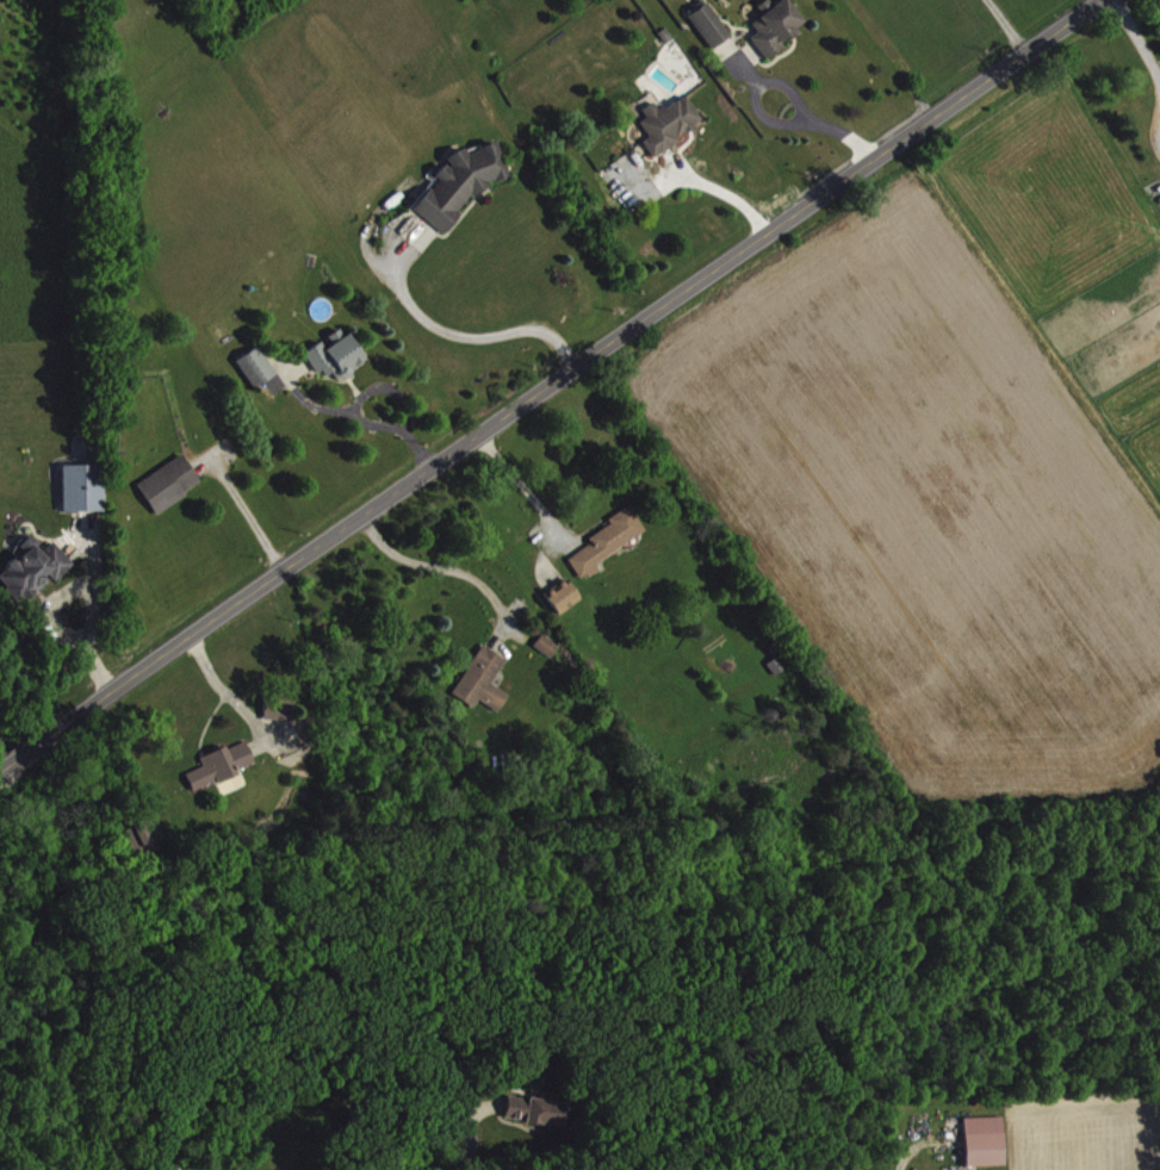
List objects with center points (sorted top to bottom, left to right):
building: (705, 21)
building: (770, 24)
road: (1011, 26)
building: (662, 32)
road: (1137, 42)
road: (796, 91)
building: (665, 119)
building: (459, 180)
road: (469, 337)
building: (330, 354)
building: (250, 365)
road: (551, 384)
building: (172, 481)
building: (87, 486)
road: (523, 486)
building: (612, 537)
building: (36, 565)
building: (565, 593)
building: (548, 643)
building: (484, 678)
road: (225, 691)
building: (283, 705)
building: (223, 764)
building: (145, 835)
building: (538, 1109)
road: (469, 1127)
building: (986, 1139)
road: (404, 1169)
road: (902, 1169)

